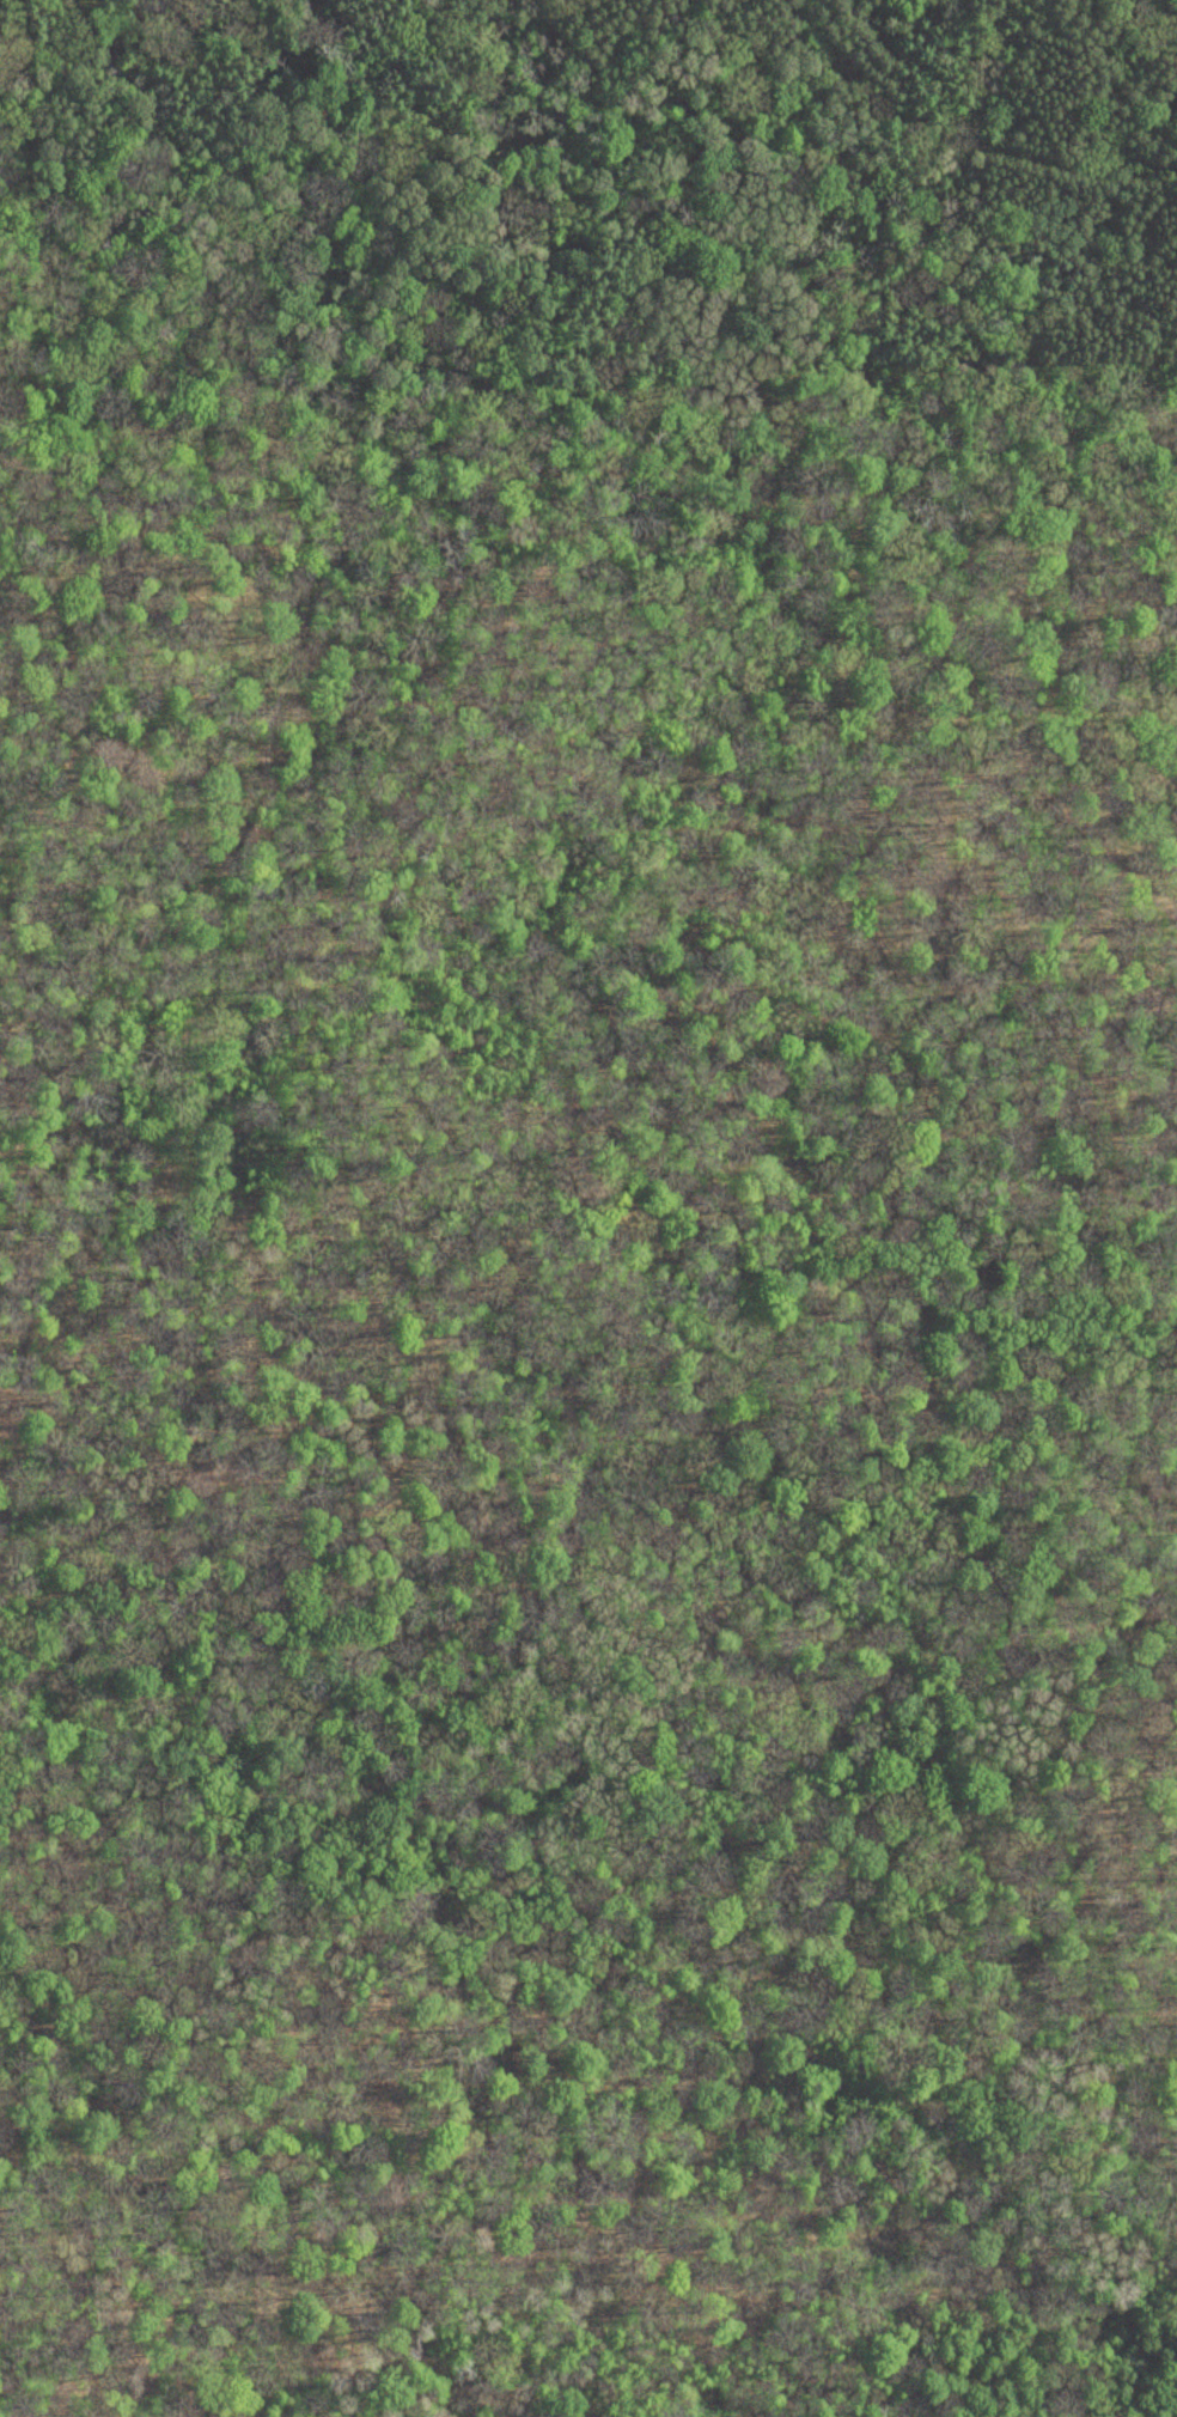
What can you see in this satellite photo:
road: (786, 5)
road: (962, 142)
road: (379, 510)
road: (1136, 601)
road: (537, 619)
road: (298, 1106)
park: (588, 1208)
road: (200, 1213)
road: (84, 1442)
road: (36, 2221)

